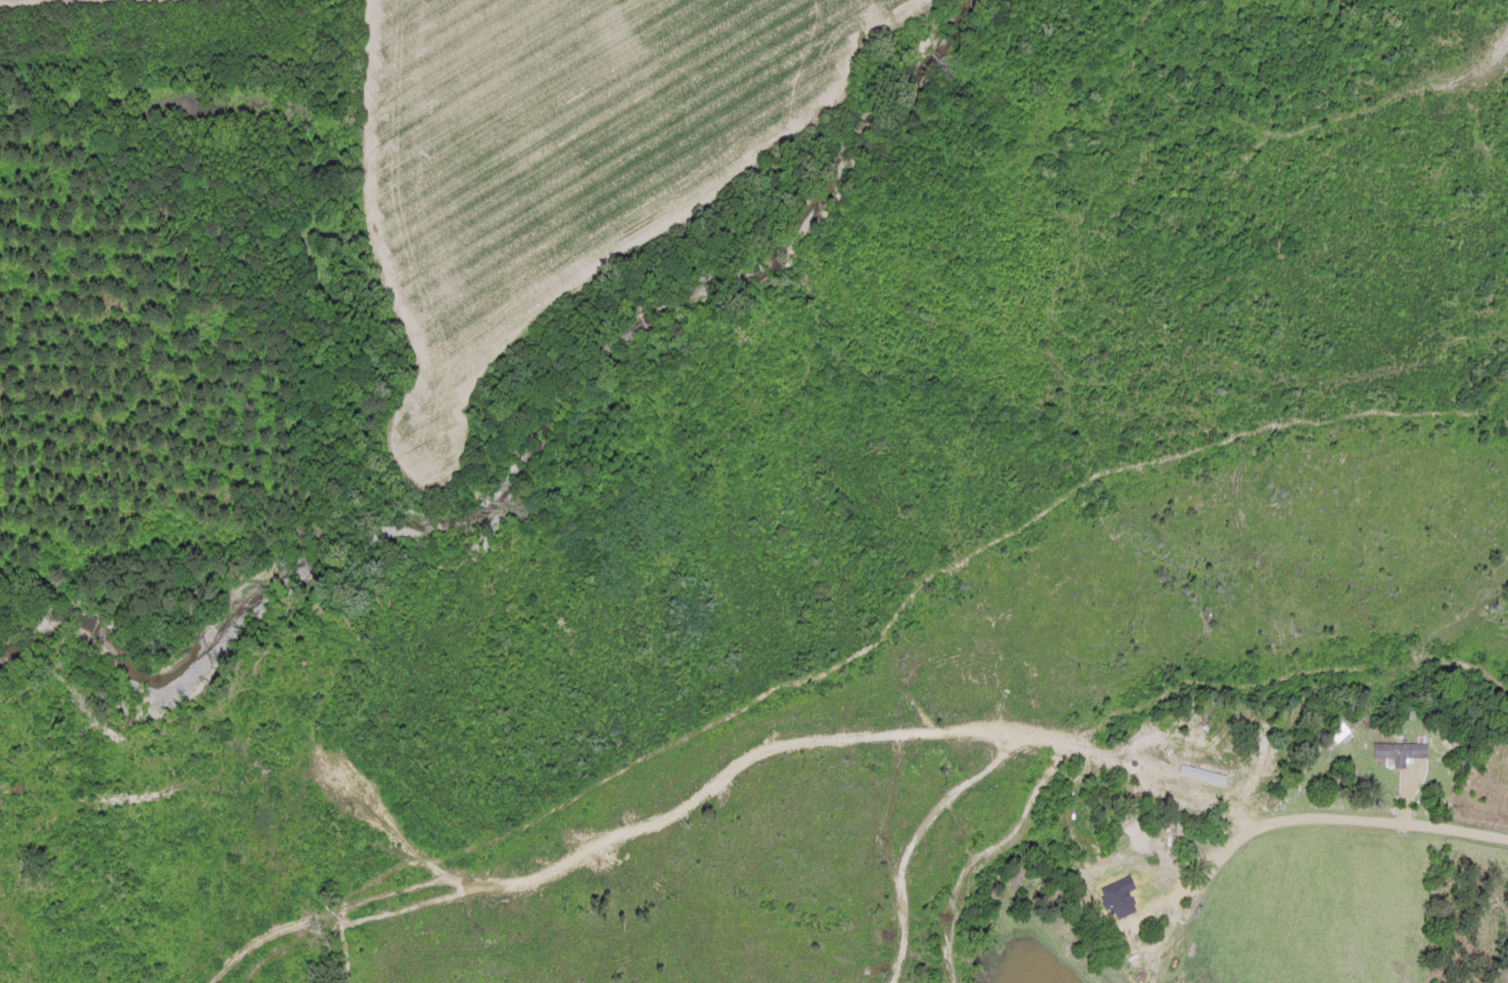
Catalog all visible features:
building: (1392, 754)
road: (1346, 822)
building: (1120, 910)

